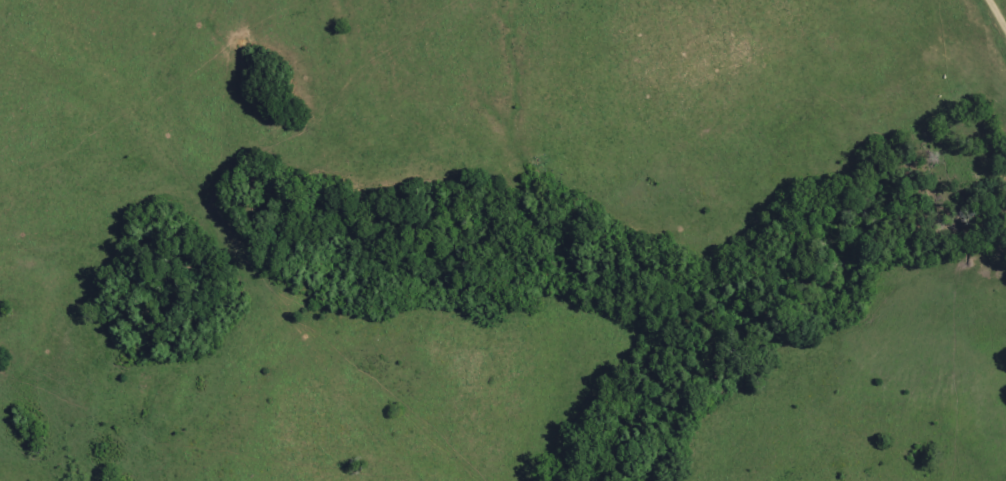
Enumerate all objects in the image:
road: (999, 11)

